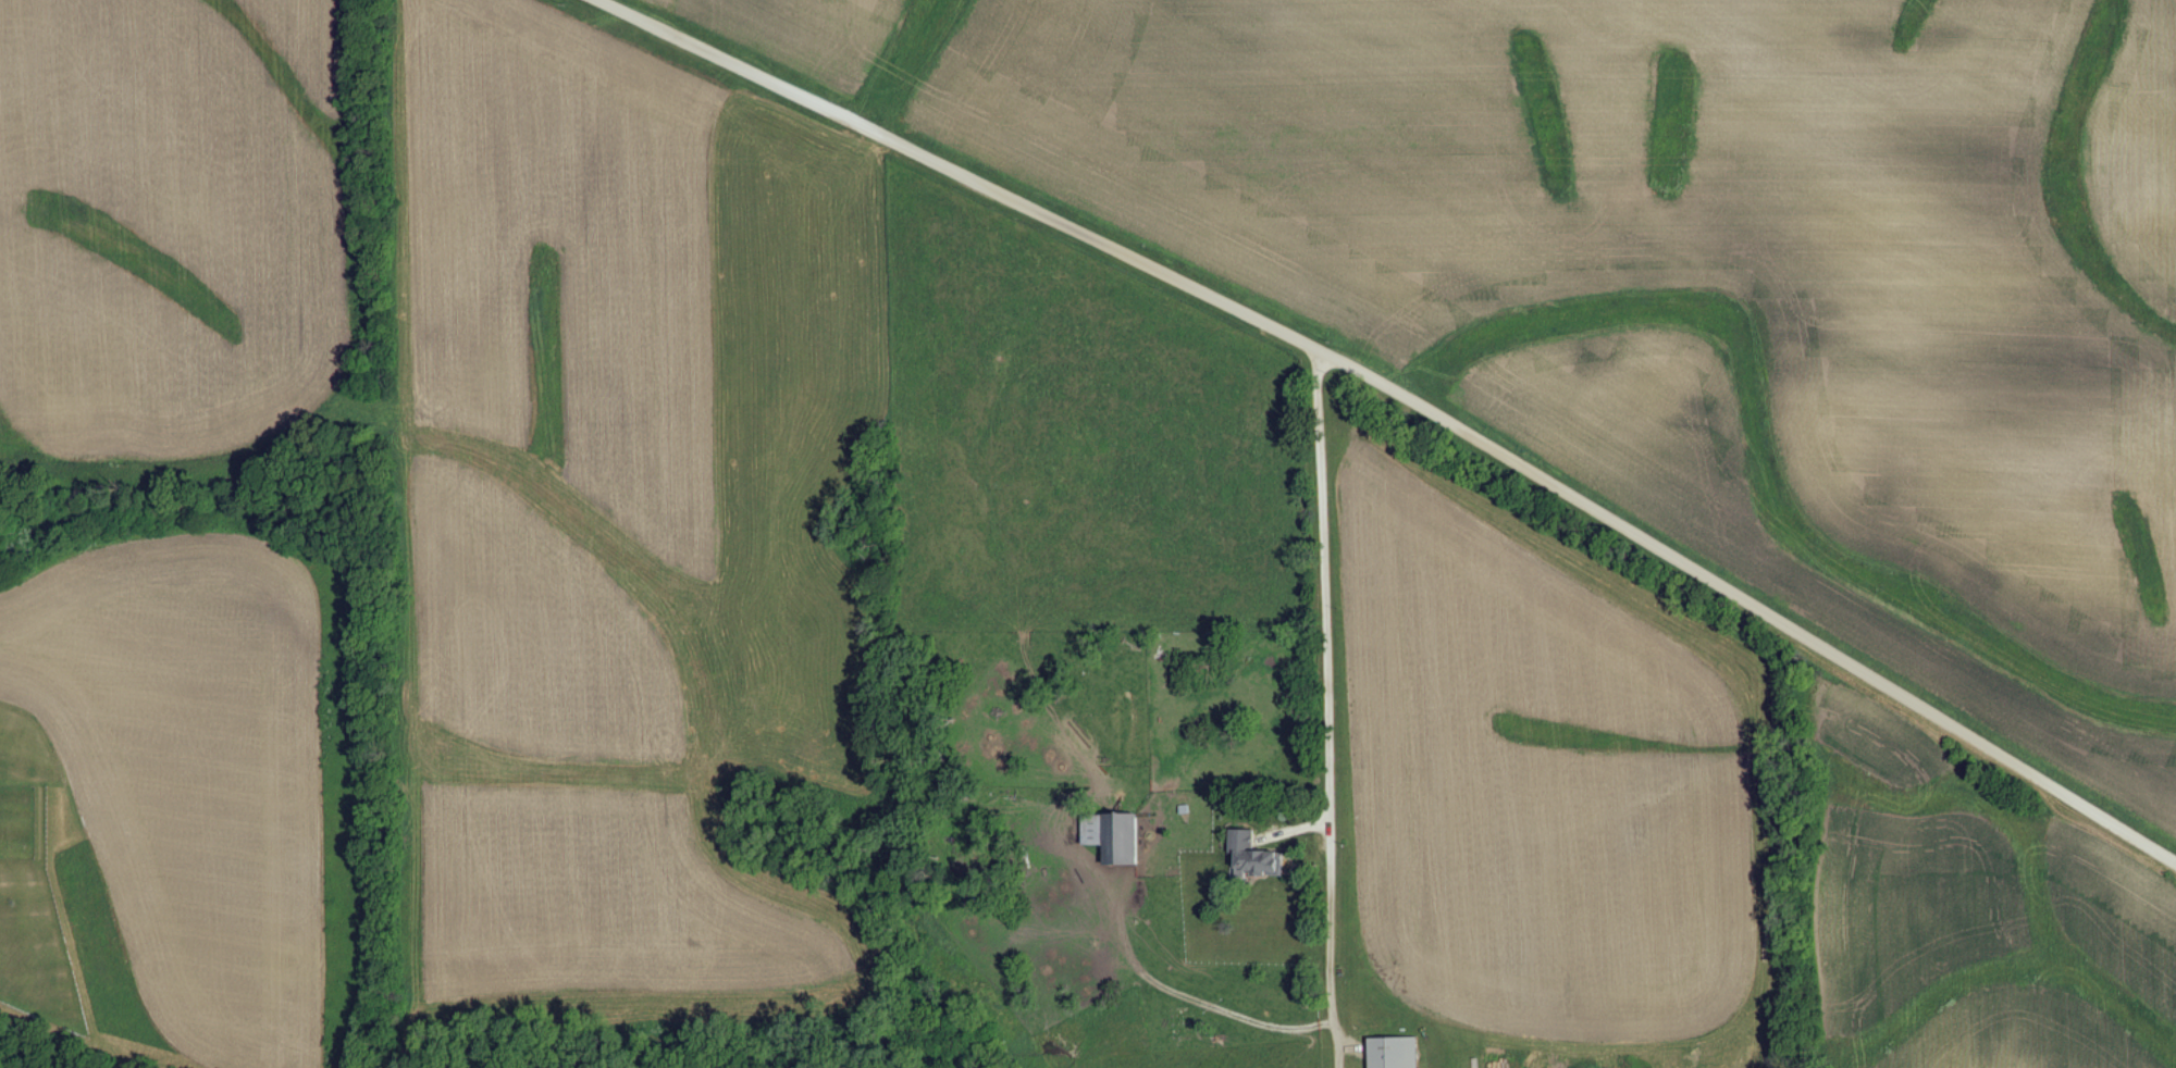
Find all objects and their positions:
road: (1404, 400)
road: (1327, 710)
building: (1116, 839)
building: (1257, 859)
road: (1194, 999)
building: (1398, 1054)

